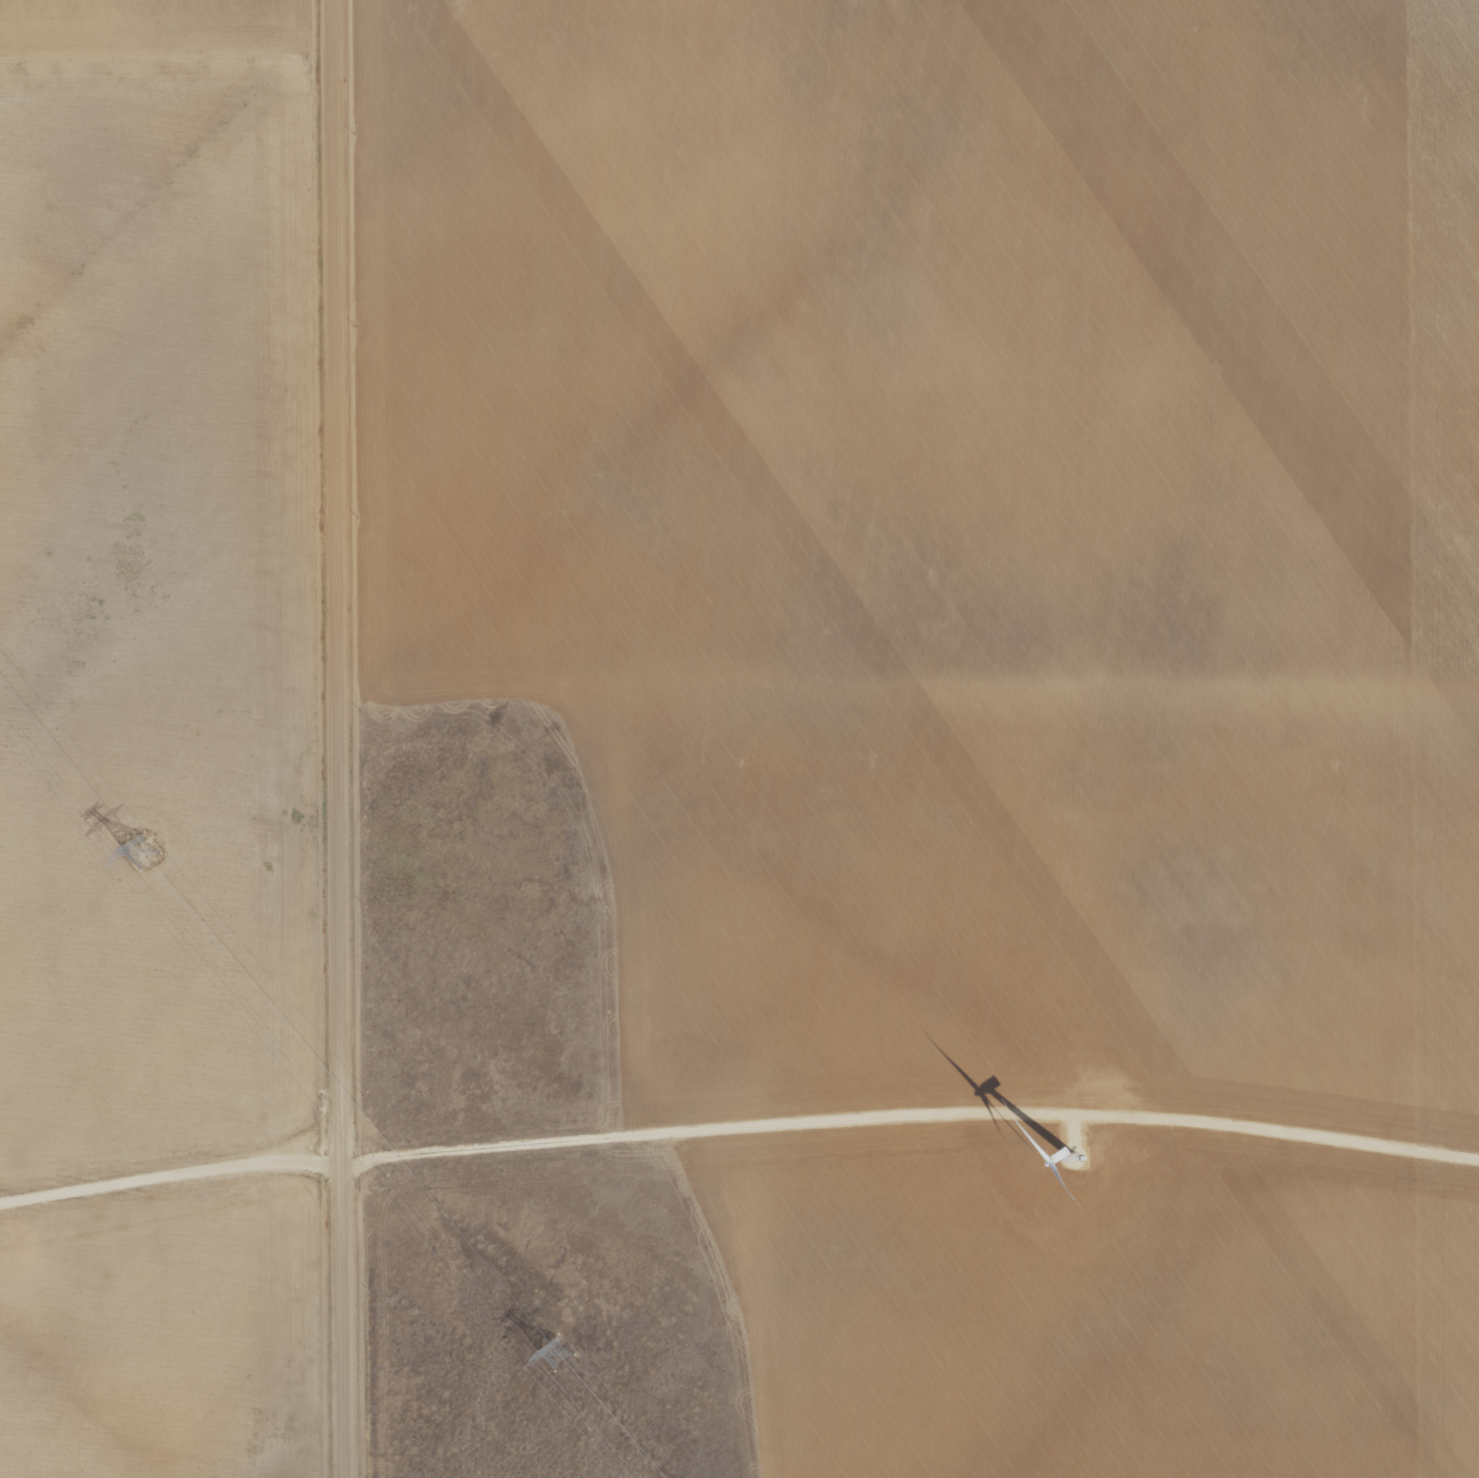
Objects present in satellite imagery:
road: (340, 739)
power tower: (140, 851)
road: (909, 1111)
wind turbine: (1075, 1165)
road: (171, 1172)
power tower: (555, 1353)

